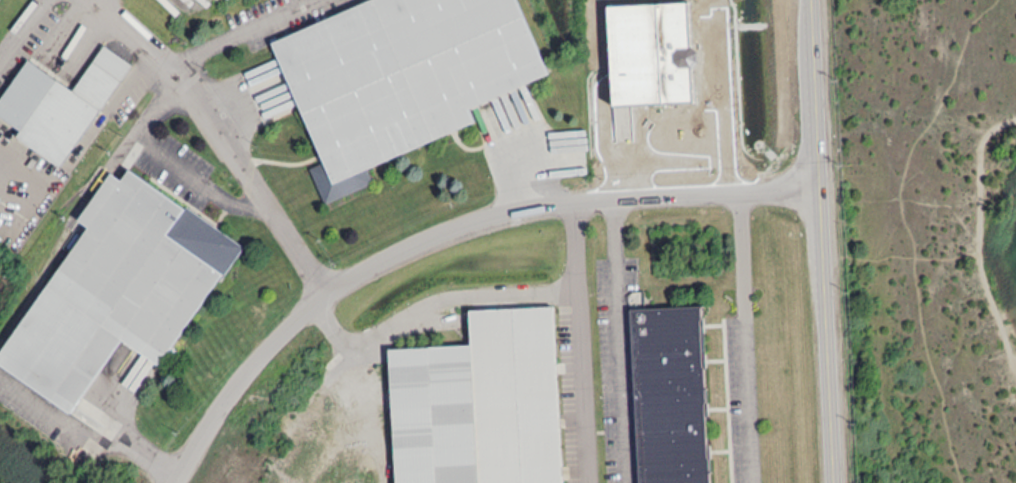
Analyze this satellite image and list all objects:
road: (238, 32)
road: (27, 37)
building: (651, 52)
building: (400, 76)
building: (58, 103)
road: (685, 106)
road: (167, 156)
road: (525, 172)
road: (18, 190)
road: (963, 202)
road: (928, 203)
road: (908, 230)
road: (443, 232)
park: (928, 236)
road: (978, 237)
road: (821, 241)
road: (991, 255)
road: (899, 256)
road: (300, 260)
building: (117, 287)
road: (1006, 312)
road: (618, 340)
road: (745, 340)
road: (578, 343)
road: (1014, 362)
building: (671, 394)
building: (481, 402)
road: (87, 440)

